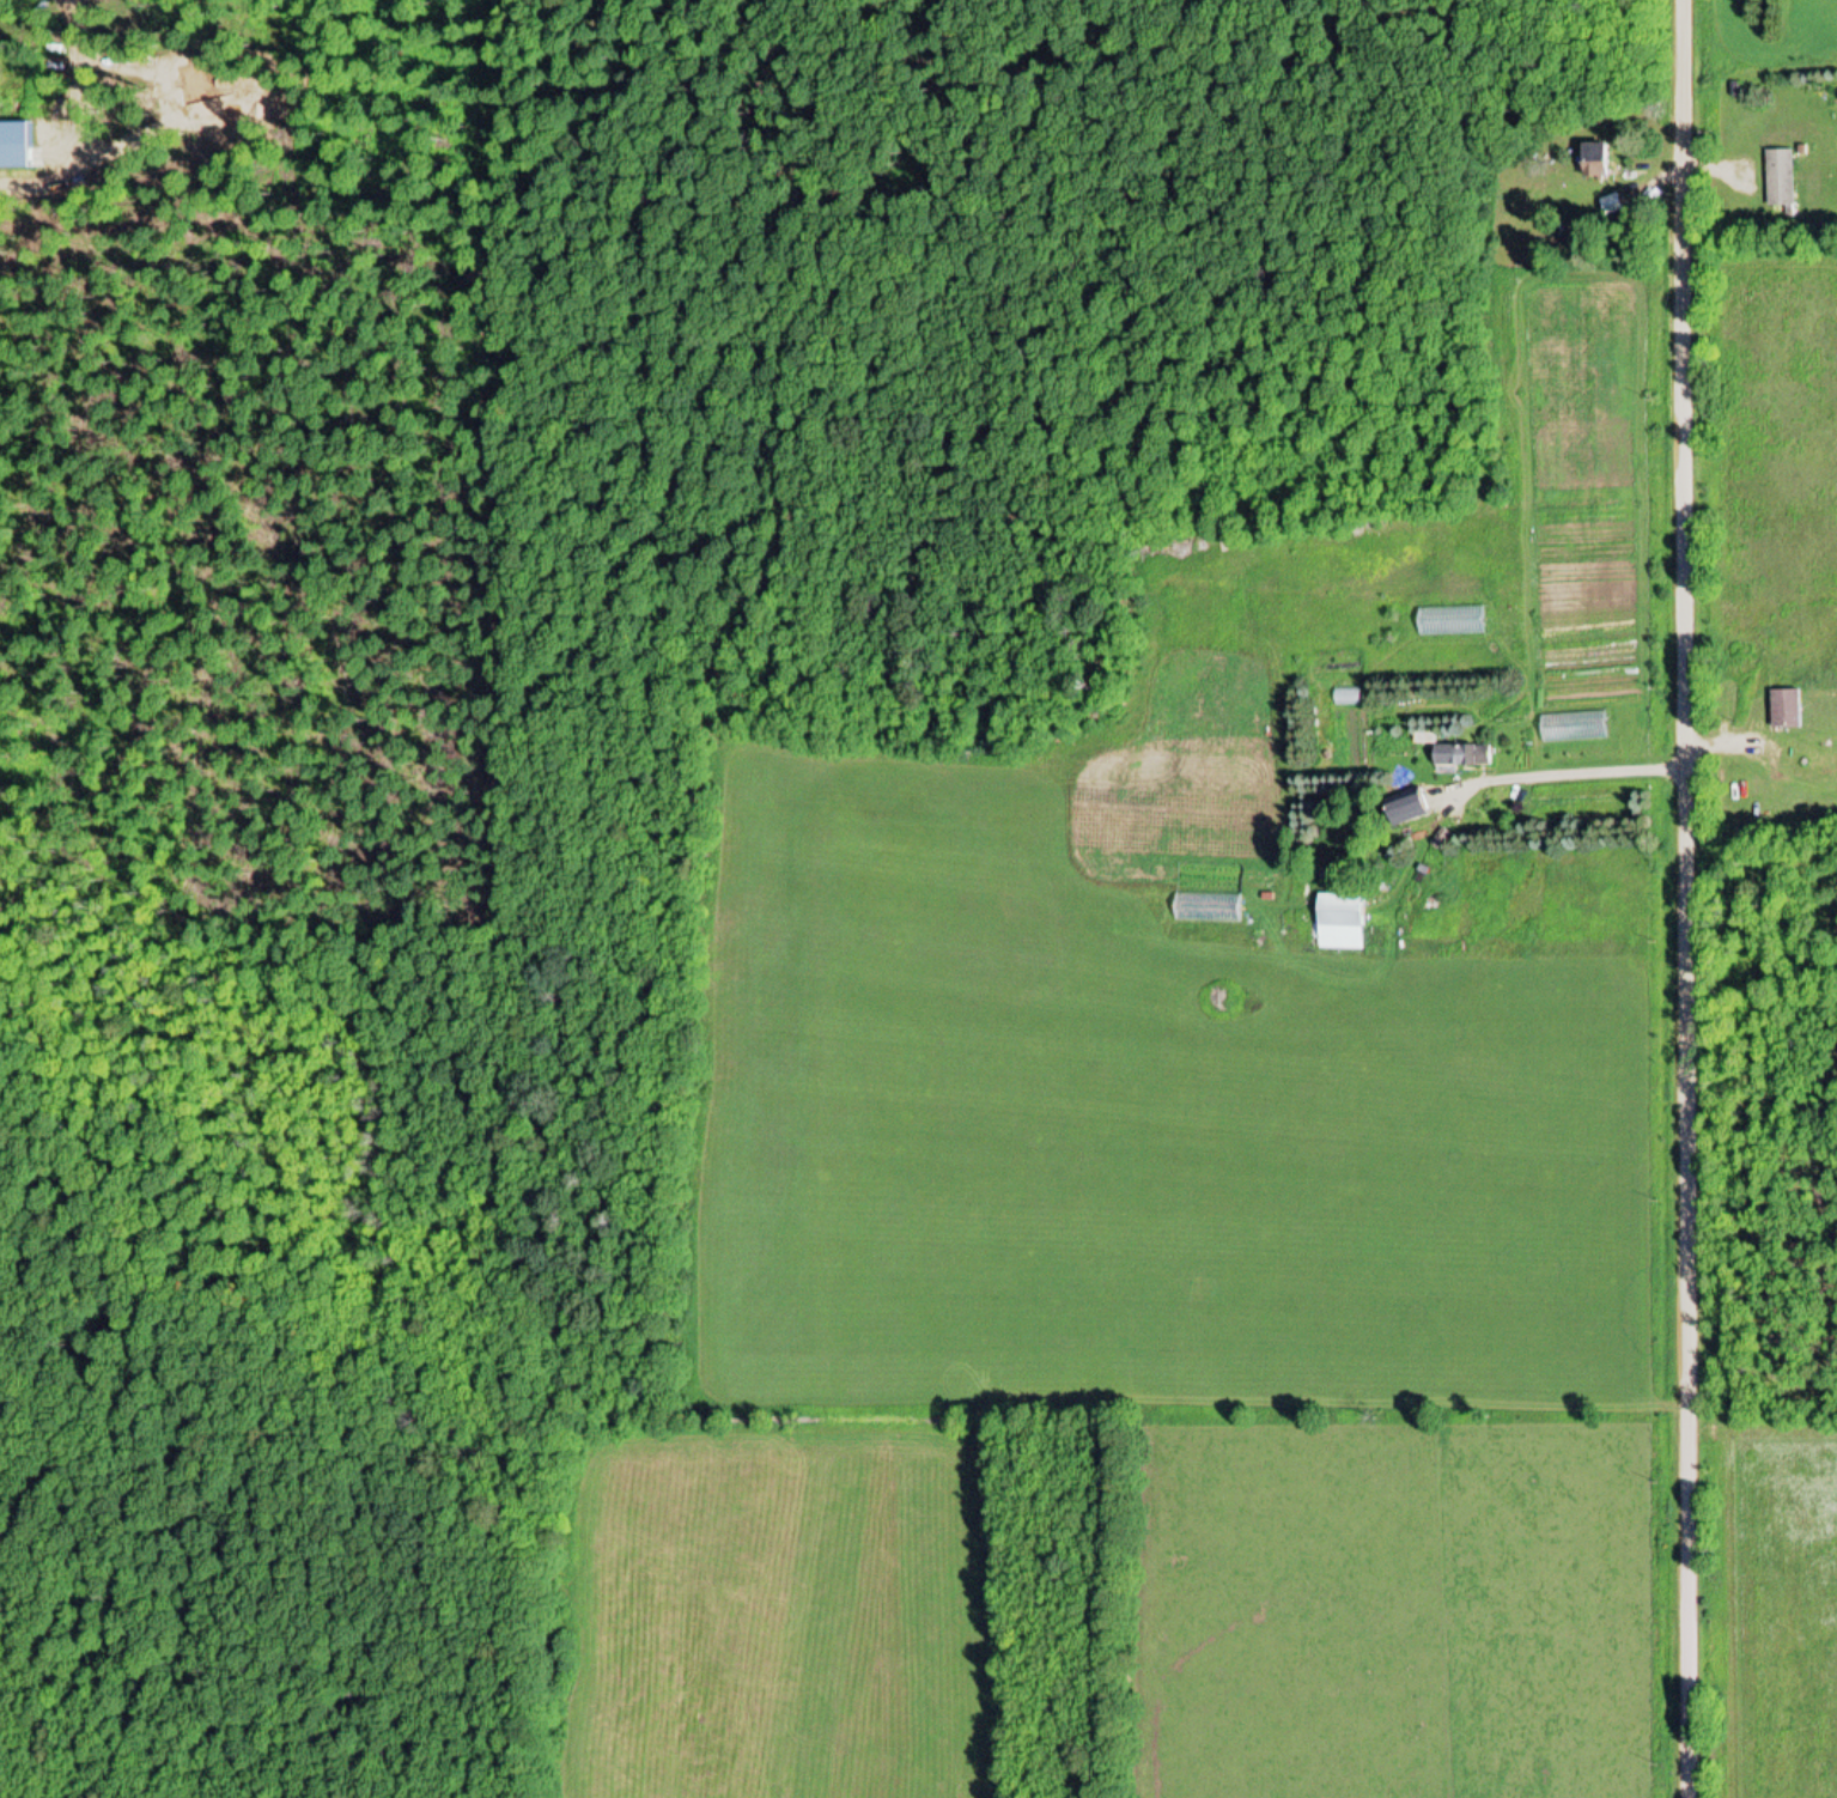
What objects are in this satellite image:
building: (1602, 162)
building: (1784, 180)
building: (1781, 710)
building: (1466, 755)
road: (1690, 899)

